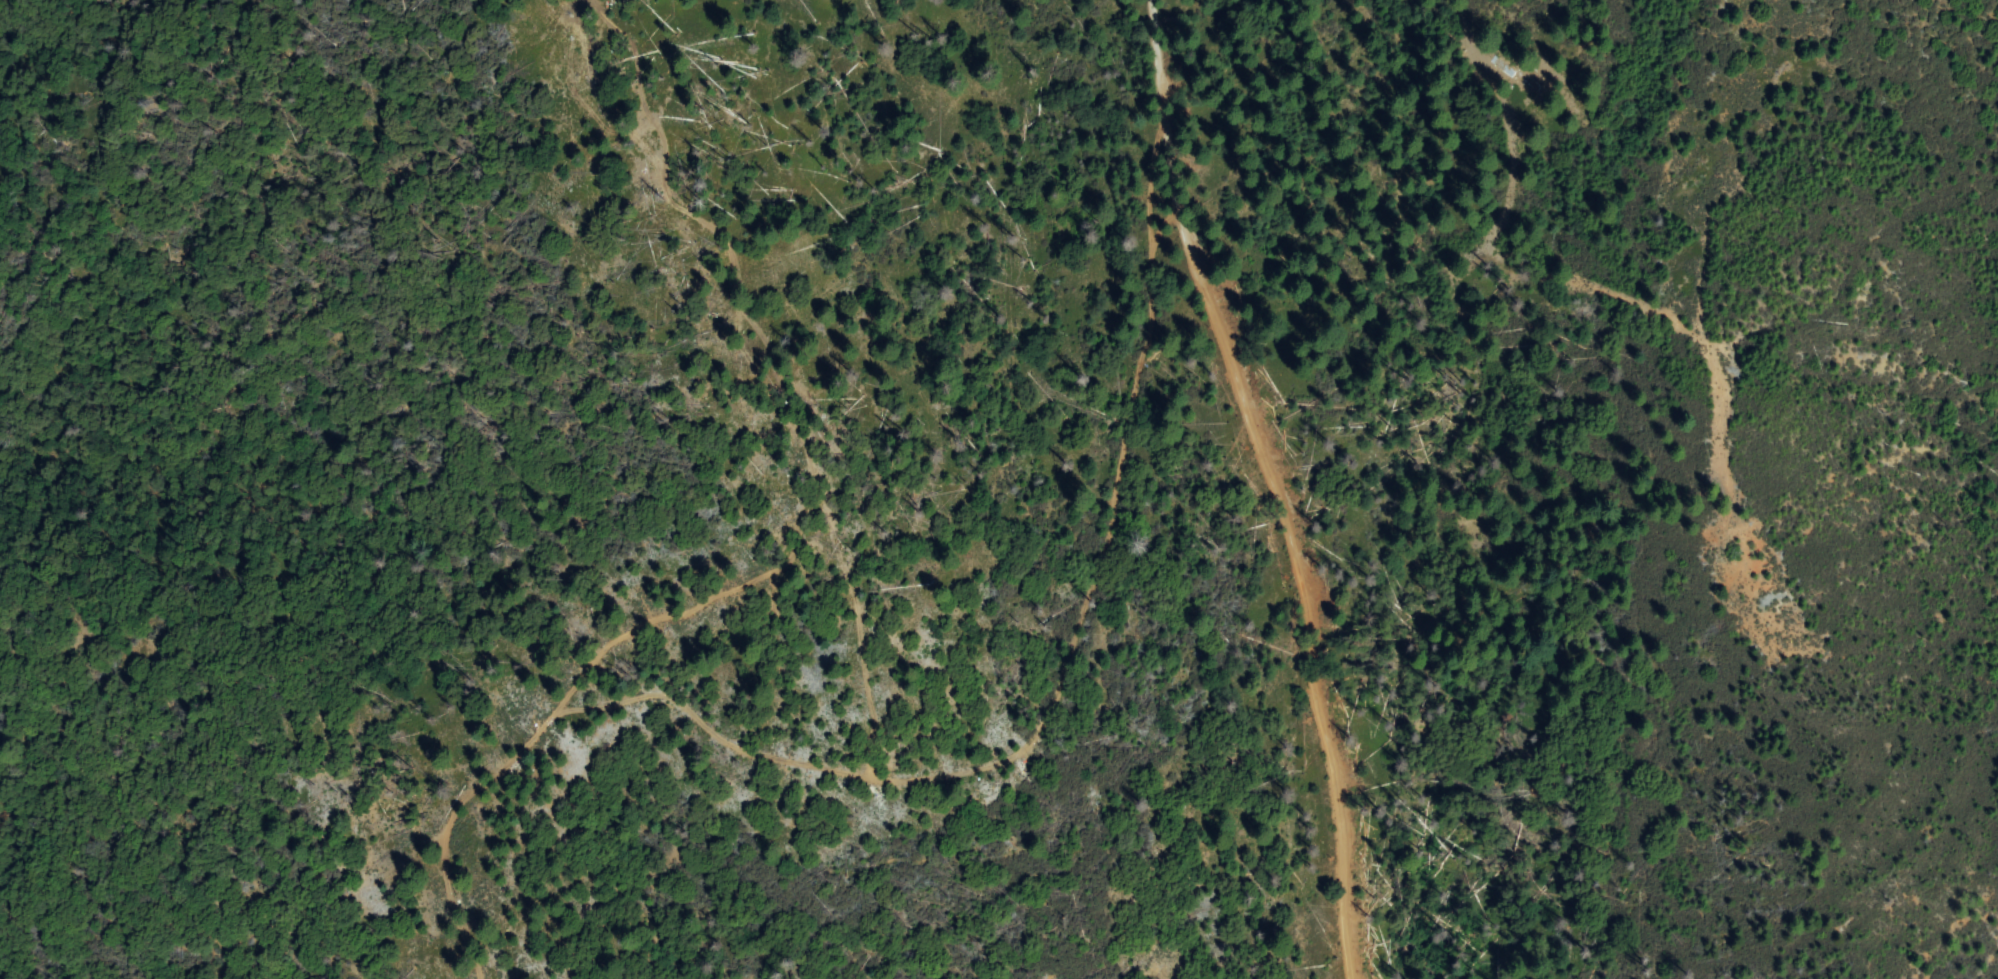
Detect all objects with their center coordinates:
road: (1538, 72)
road: (1273, 484)

